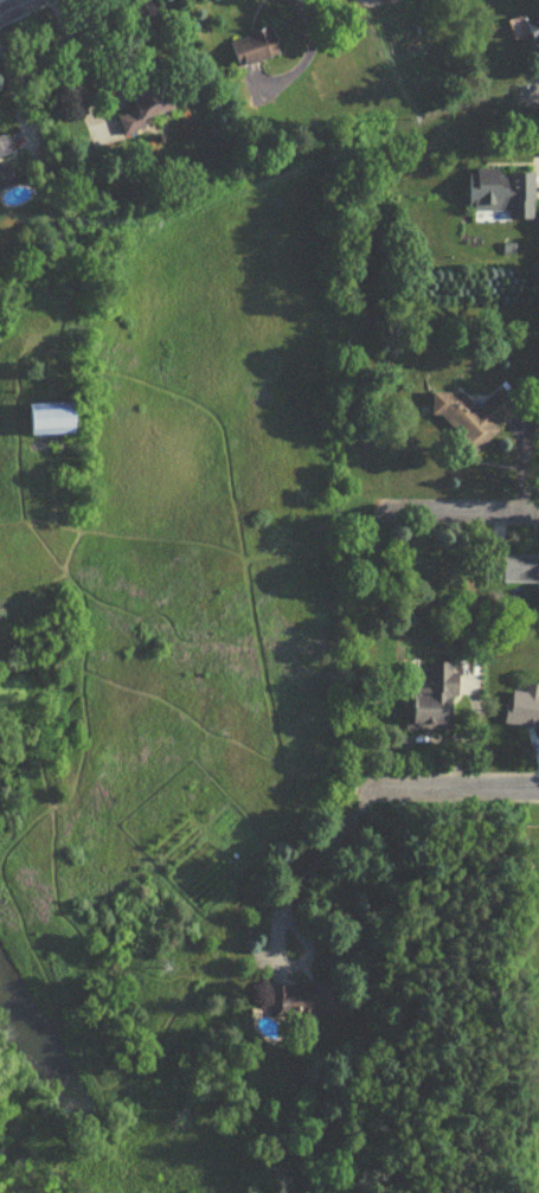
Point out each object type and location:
road: (23, 9)
building: (534, 36)
building: (252, 43)
road: (19, 100)
building: (136, 110)
building: (6, 165)
building: (501, 198)
building: (475, 421)
building: (46, 422)
road: (464, 512)
building: (514, 576)
building: (436, 704)
building: (524, 714)
road: (456, 794)
road: (309, 861)
building: (304, 1007)

